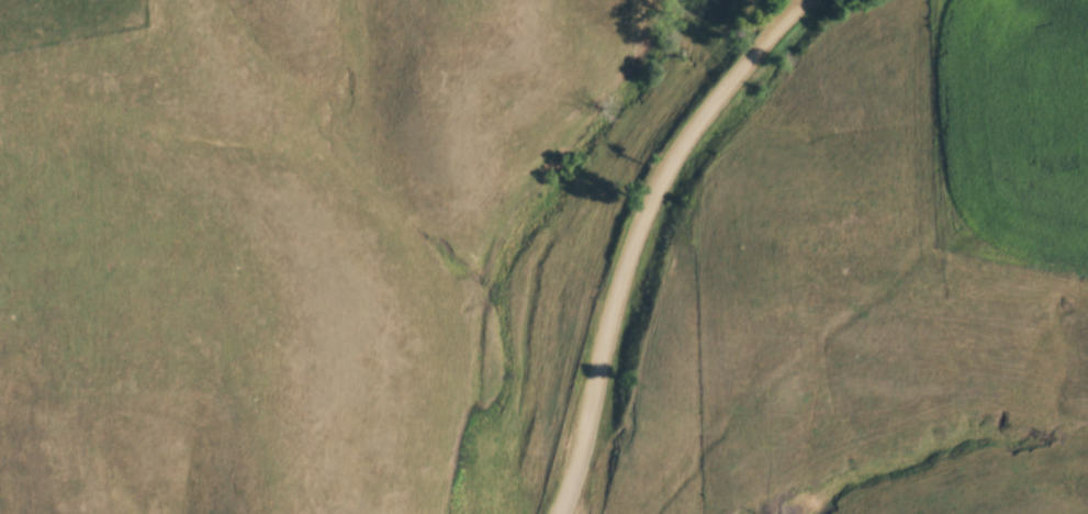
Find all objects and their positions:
road: (642, 234)

